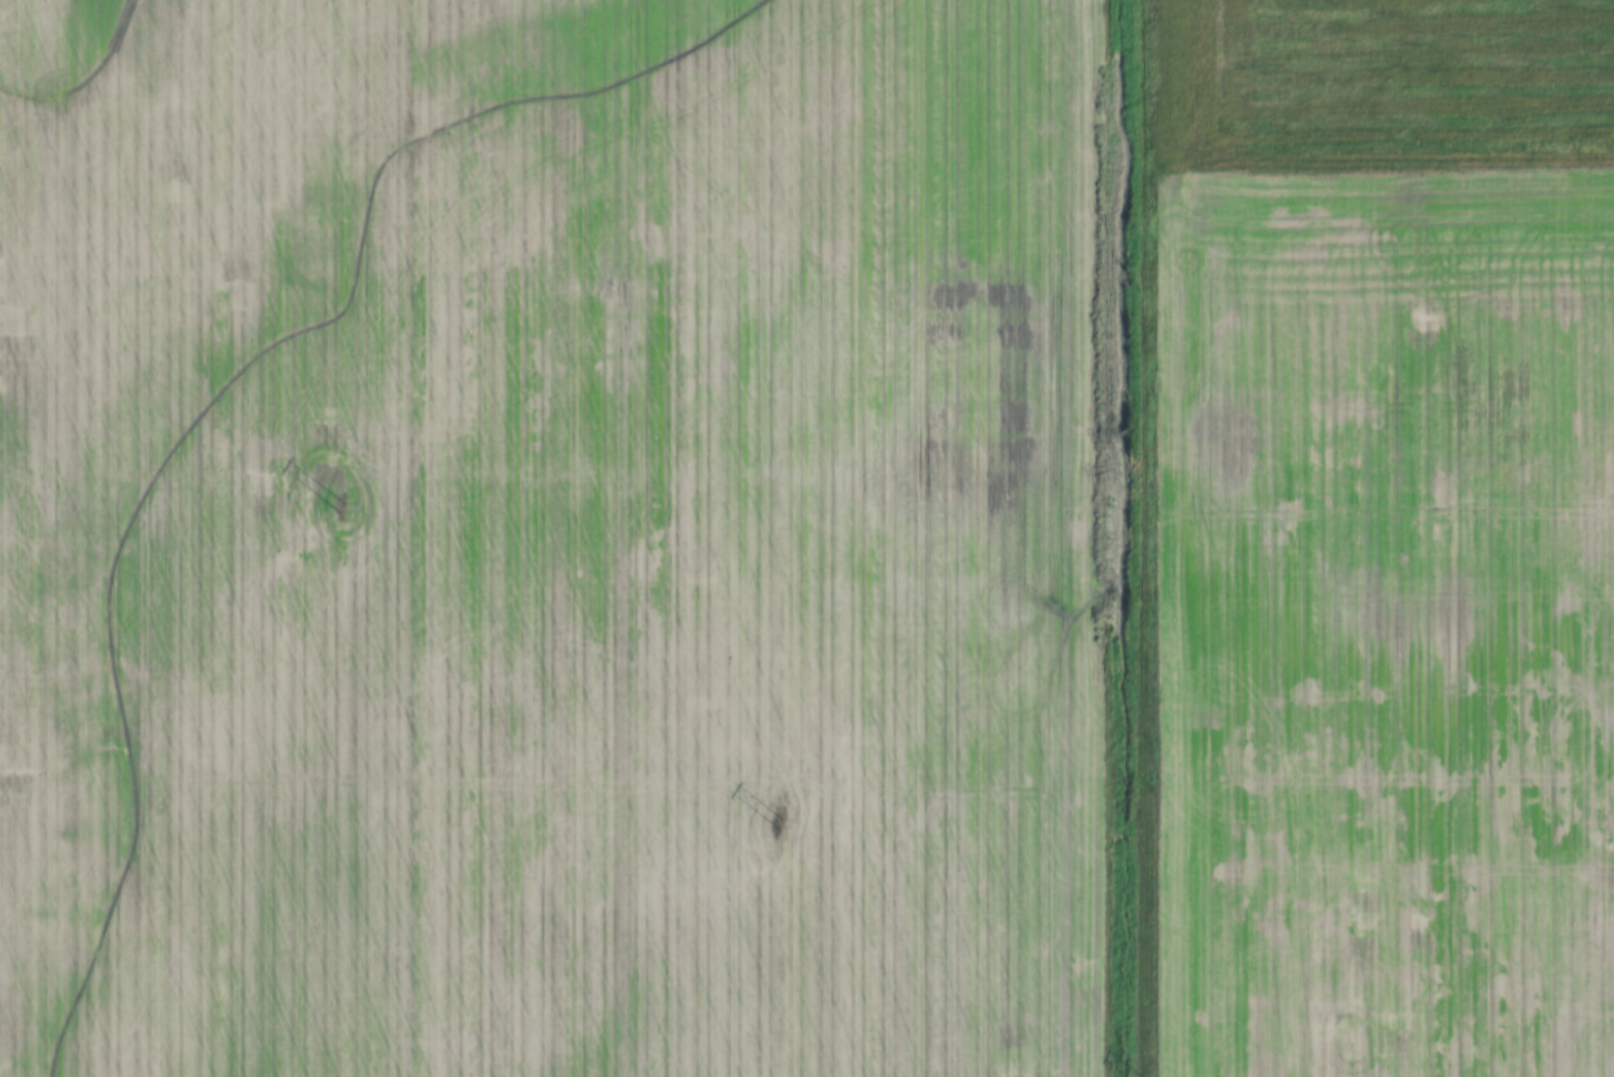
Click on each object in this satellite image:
power tower: (344, 510)
power tower: (778, 821)

